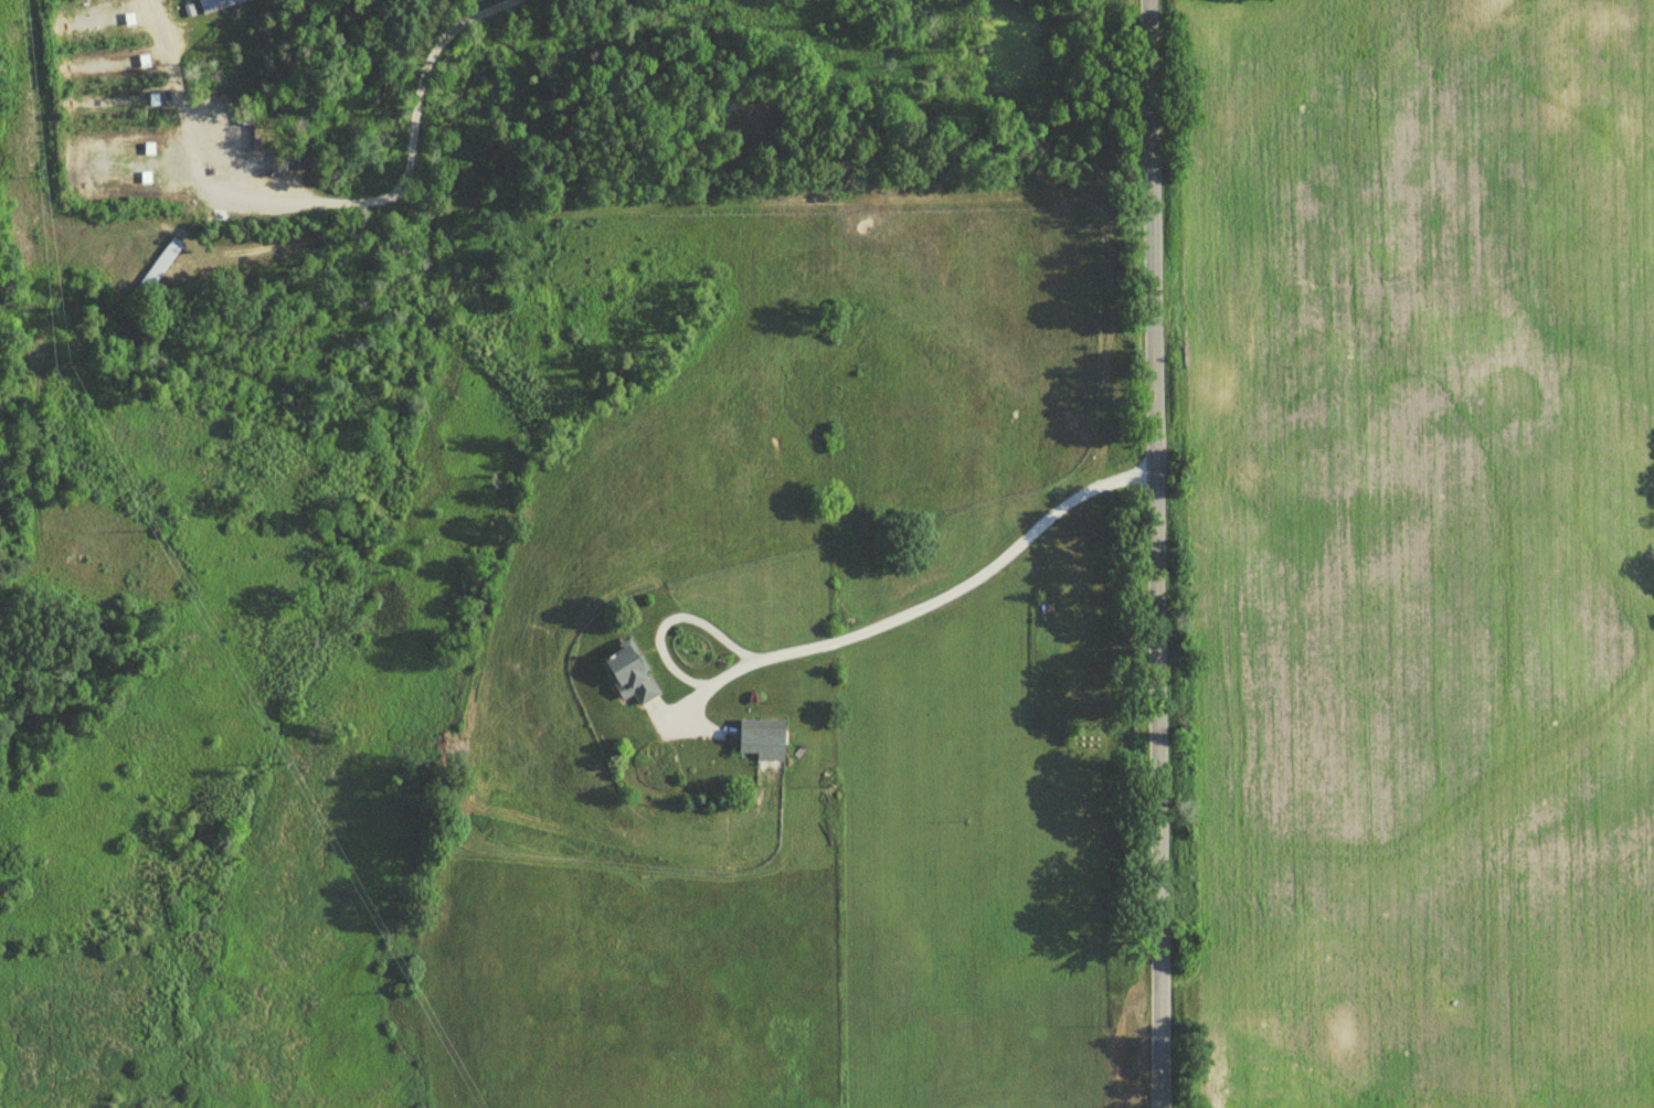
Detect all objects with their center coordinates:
building: (222, 7)
road: (827, 157)
road: (328, 201)
road: (706, 204)
building: (160, 270)
crop: (1418, 547)
road: (1156, 553)
road: (855, 630)
building: (630, 679)
building: (762, 744)

